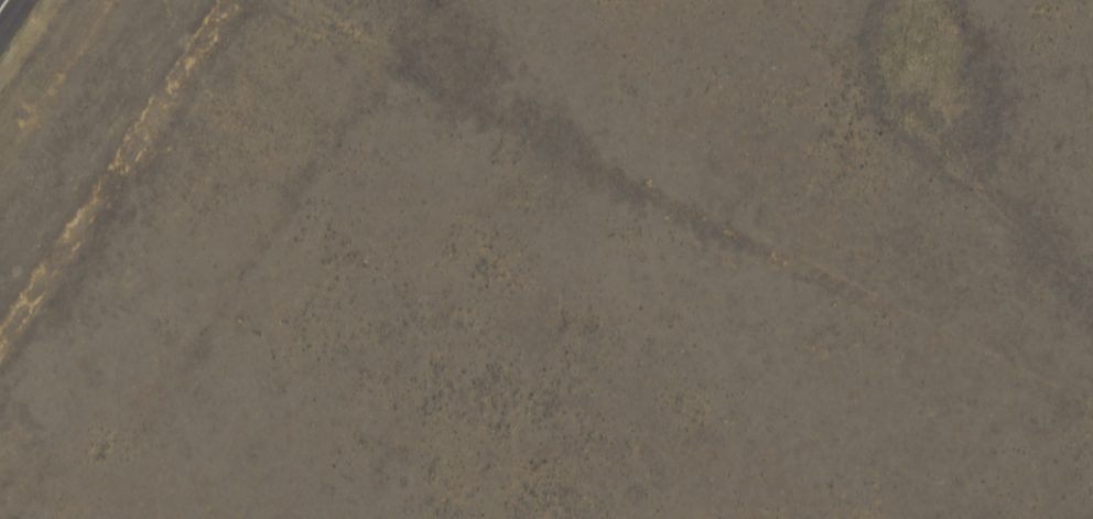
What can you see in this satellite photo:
airport runway: (1, 2)
airport: (546, 259)

